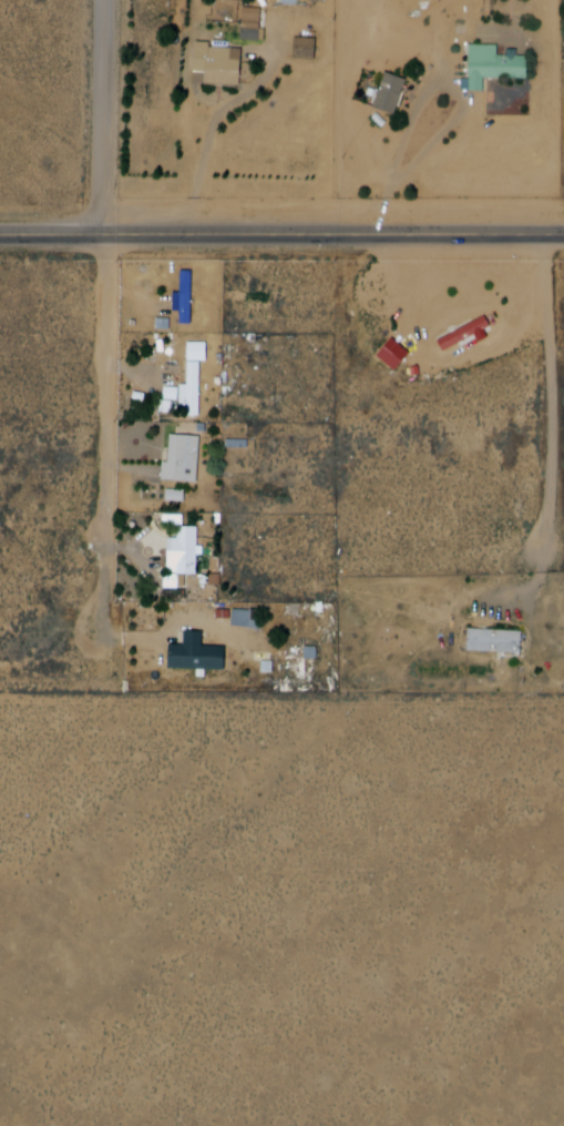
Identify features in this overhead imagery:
building: (285, 2)
building: (221, 63)
building: (498, 65)
building: (393, 93)
road: (113, 120)
road: (281, 240)
building: (178, 300)
building: (466, 334)
building: (195, 390)
road: (561, 403)
road: (115, 436)
building: (186, 459)
building: (186, 552)
building: (239, 618)
building: (499, 640)
building: (198, 652)

